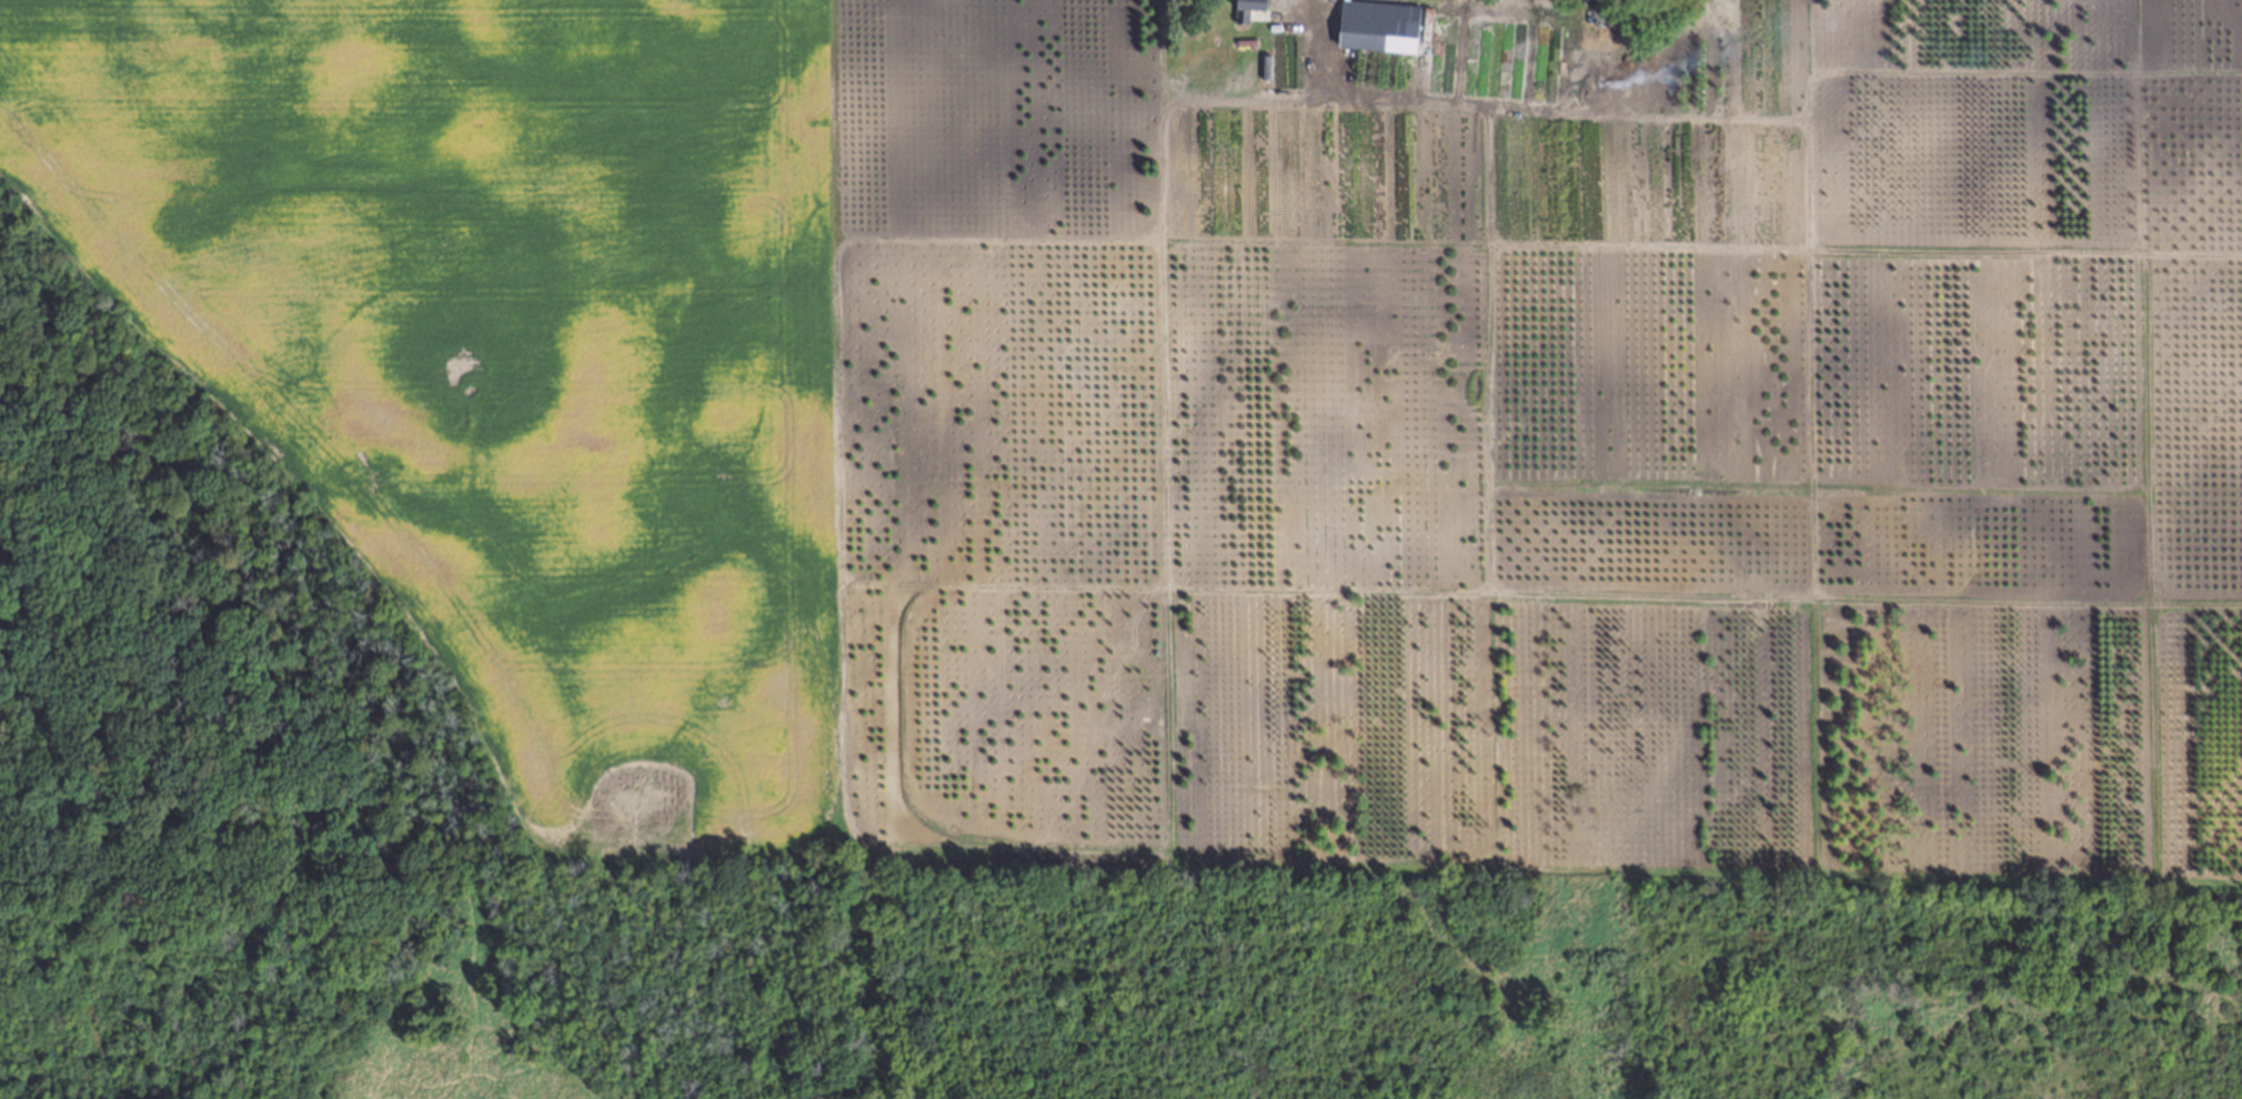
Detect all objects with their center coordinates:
road: (1300, 4)
building: (1244, 8)
building: (1376, 23)

